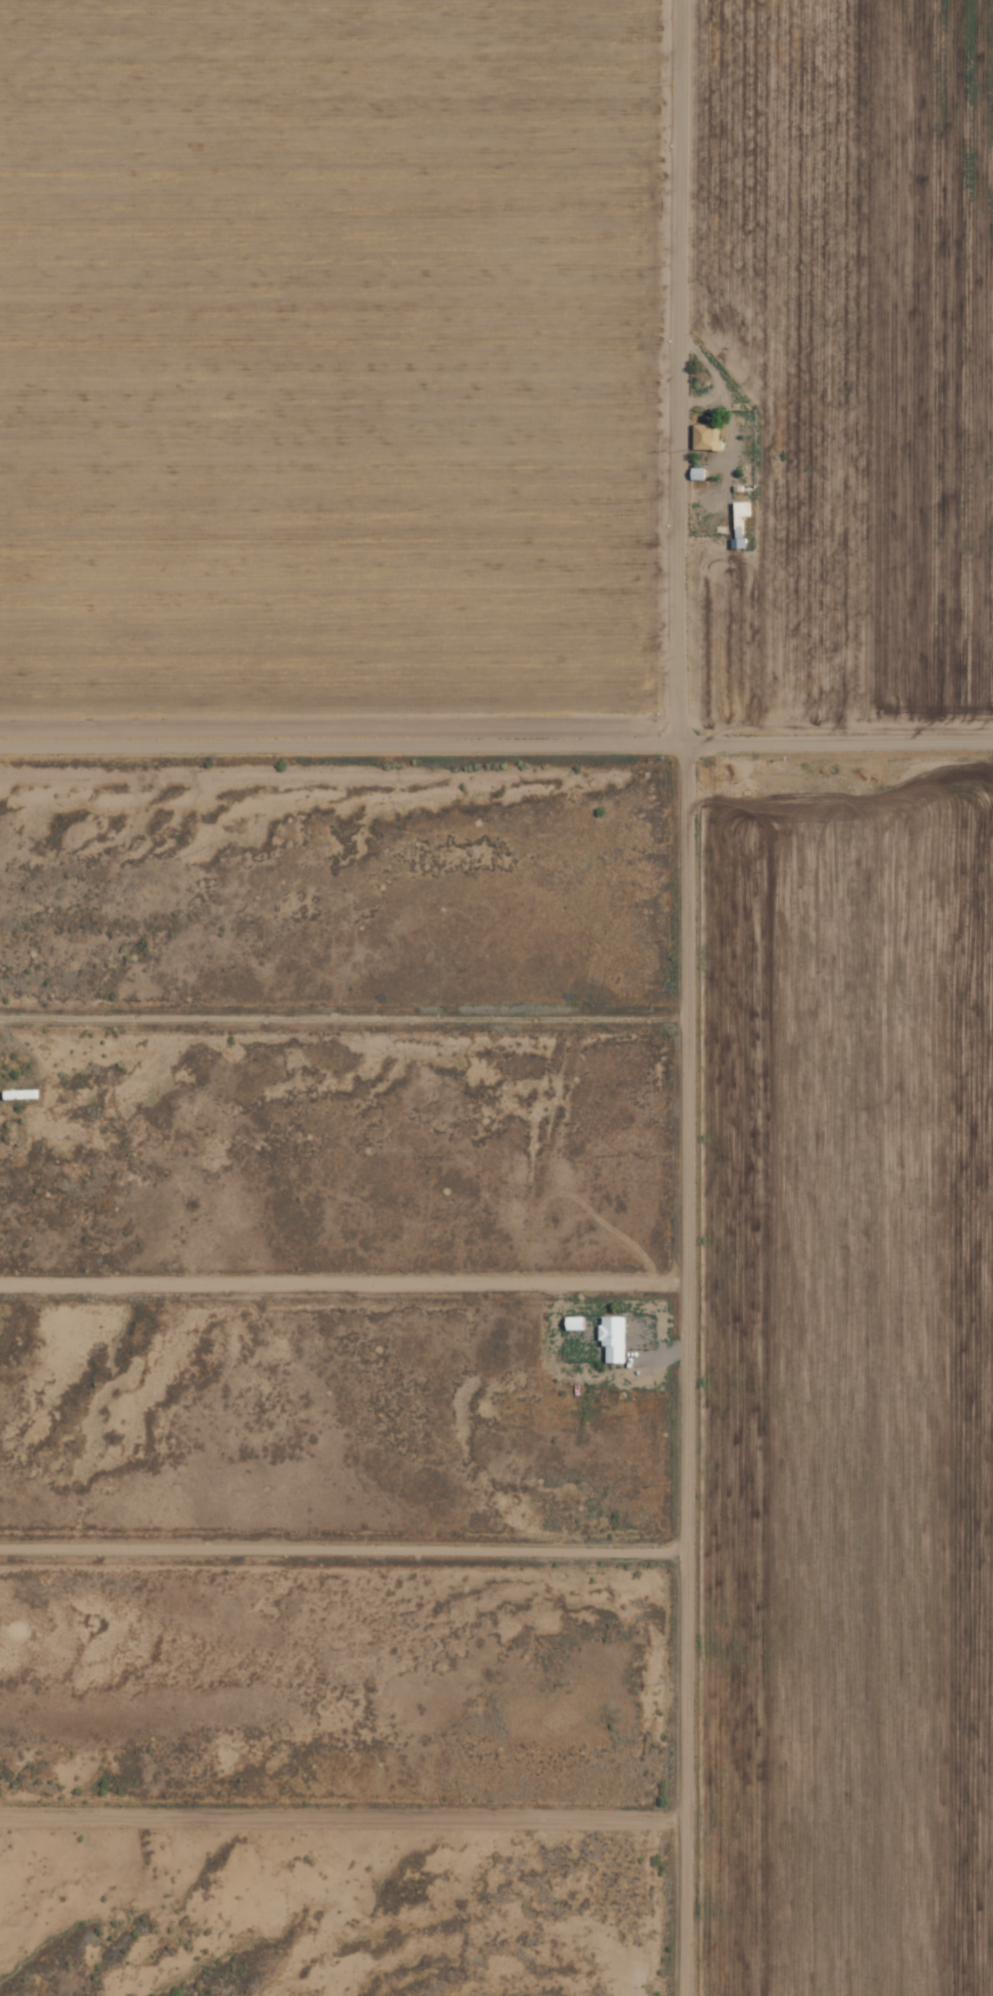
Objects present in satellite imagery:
building: (701, 437)
road: (831, 718)
road: (335, 719)
road: (332, 978)
road: (665, 997)
road: (332, 1268)
building: (611, 1338)
road: (332, 1534)
road: (332, 1800)

